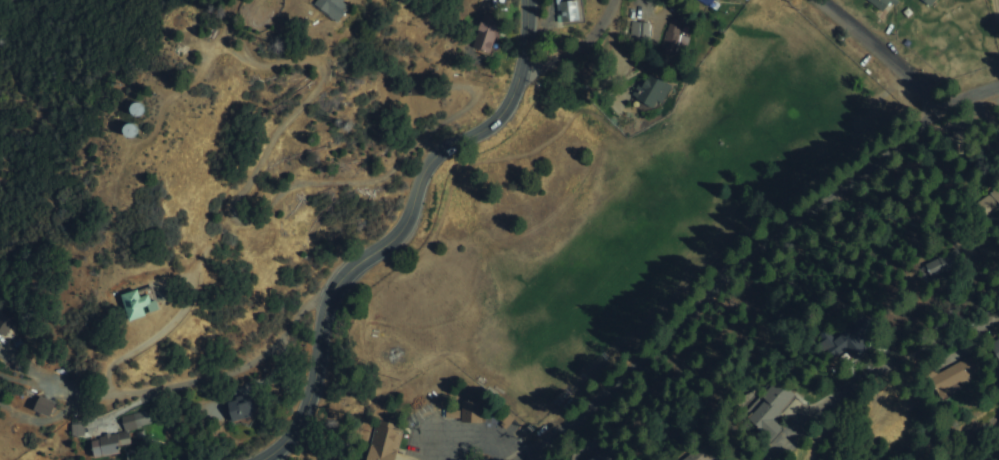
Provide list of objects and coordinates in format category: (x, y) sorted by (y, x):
building: (706, 2)
building: (928, 2)
building: (880, 4)
building: (338, 7)
building: (570, 10)
road: (996, 16)
building: (639, 29)
building: (488, 33)
building: (676, 35)
road: (575, 45)
road: (880, 55)
building: (652, 89)
road: (995, 93)
road: (969, 94)
building: (139, 106)
storage tank: (139, 106)
building: (133, 127)
storage tank: (133, 127)
road: (421, 173)
building: (993, 202)
building: (947, 261)
road: (732, 283)
building: (140, 303)
building: (848, 341)
building: (996, 342)
building: (958, 375)
road: (875, 380)
road: (168, 382)
building: (46, 406)
building: (774, 407)
building: (243, 408)
building: (472, 410)
road: (302, 414)
building: (143, 417)
road: (478, 436)
building: (385, 443)
building: (108, 445)
road: (561, 447)
building: (600, 454)
building: (696, 456)

